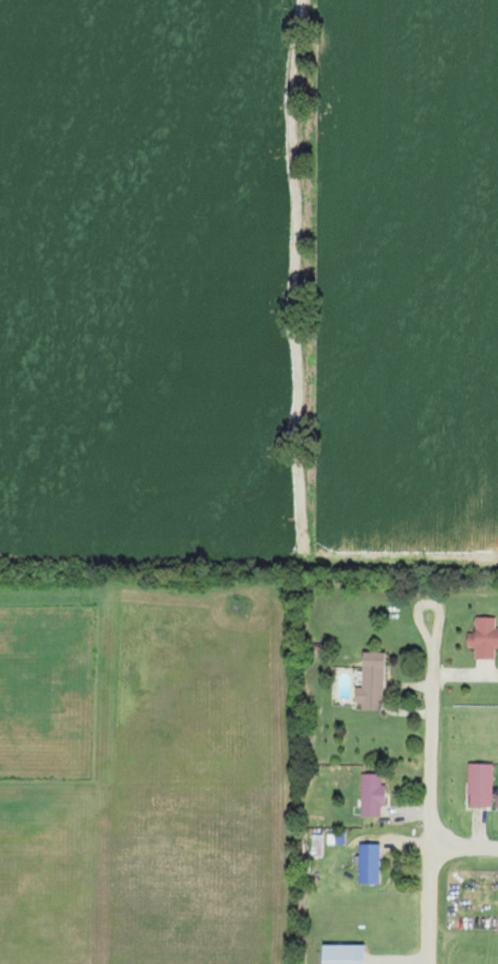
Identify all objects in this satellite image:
road: (436, 600)
building: (483, 638)
building: (371, 681)
building: (480, 785)
building: (372, 795)
road: (433, 795)
road: (465, 842)
building: (317, 845)
building: (369, 863)
building: (342, 954)

